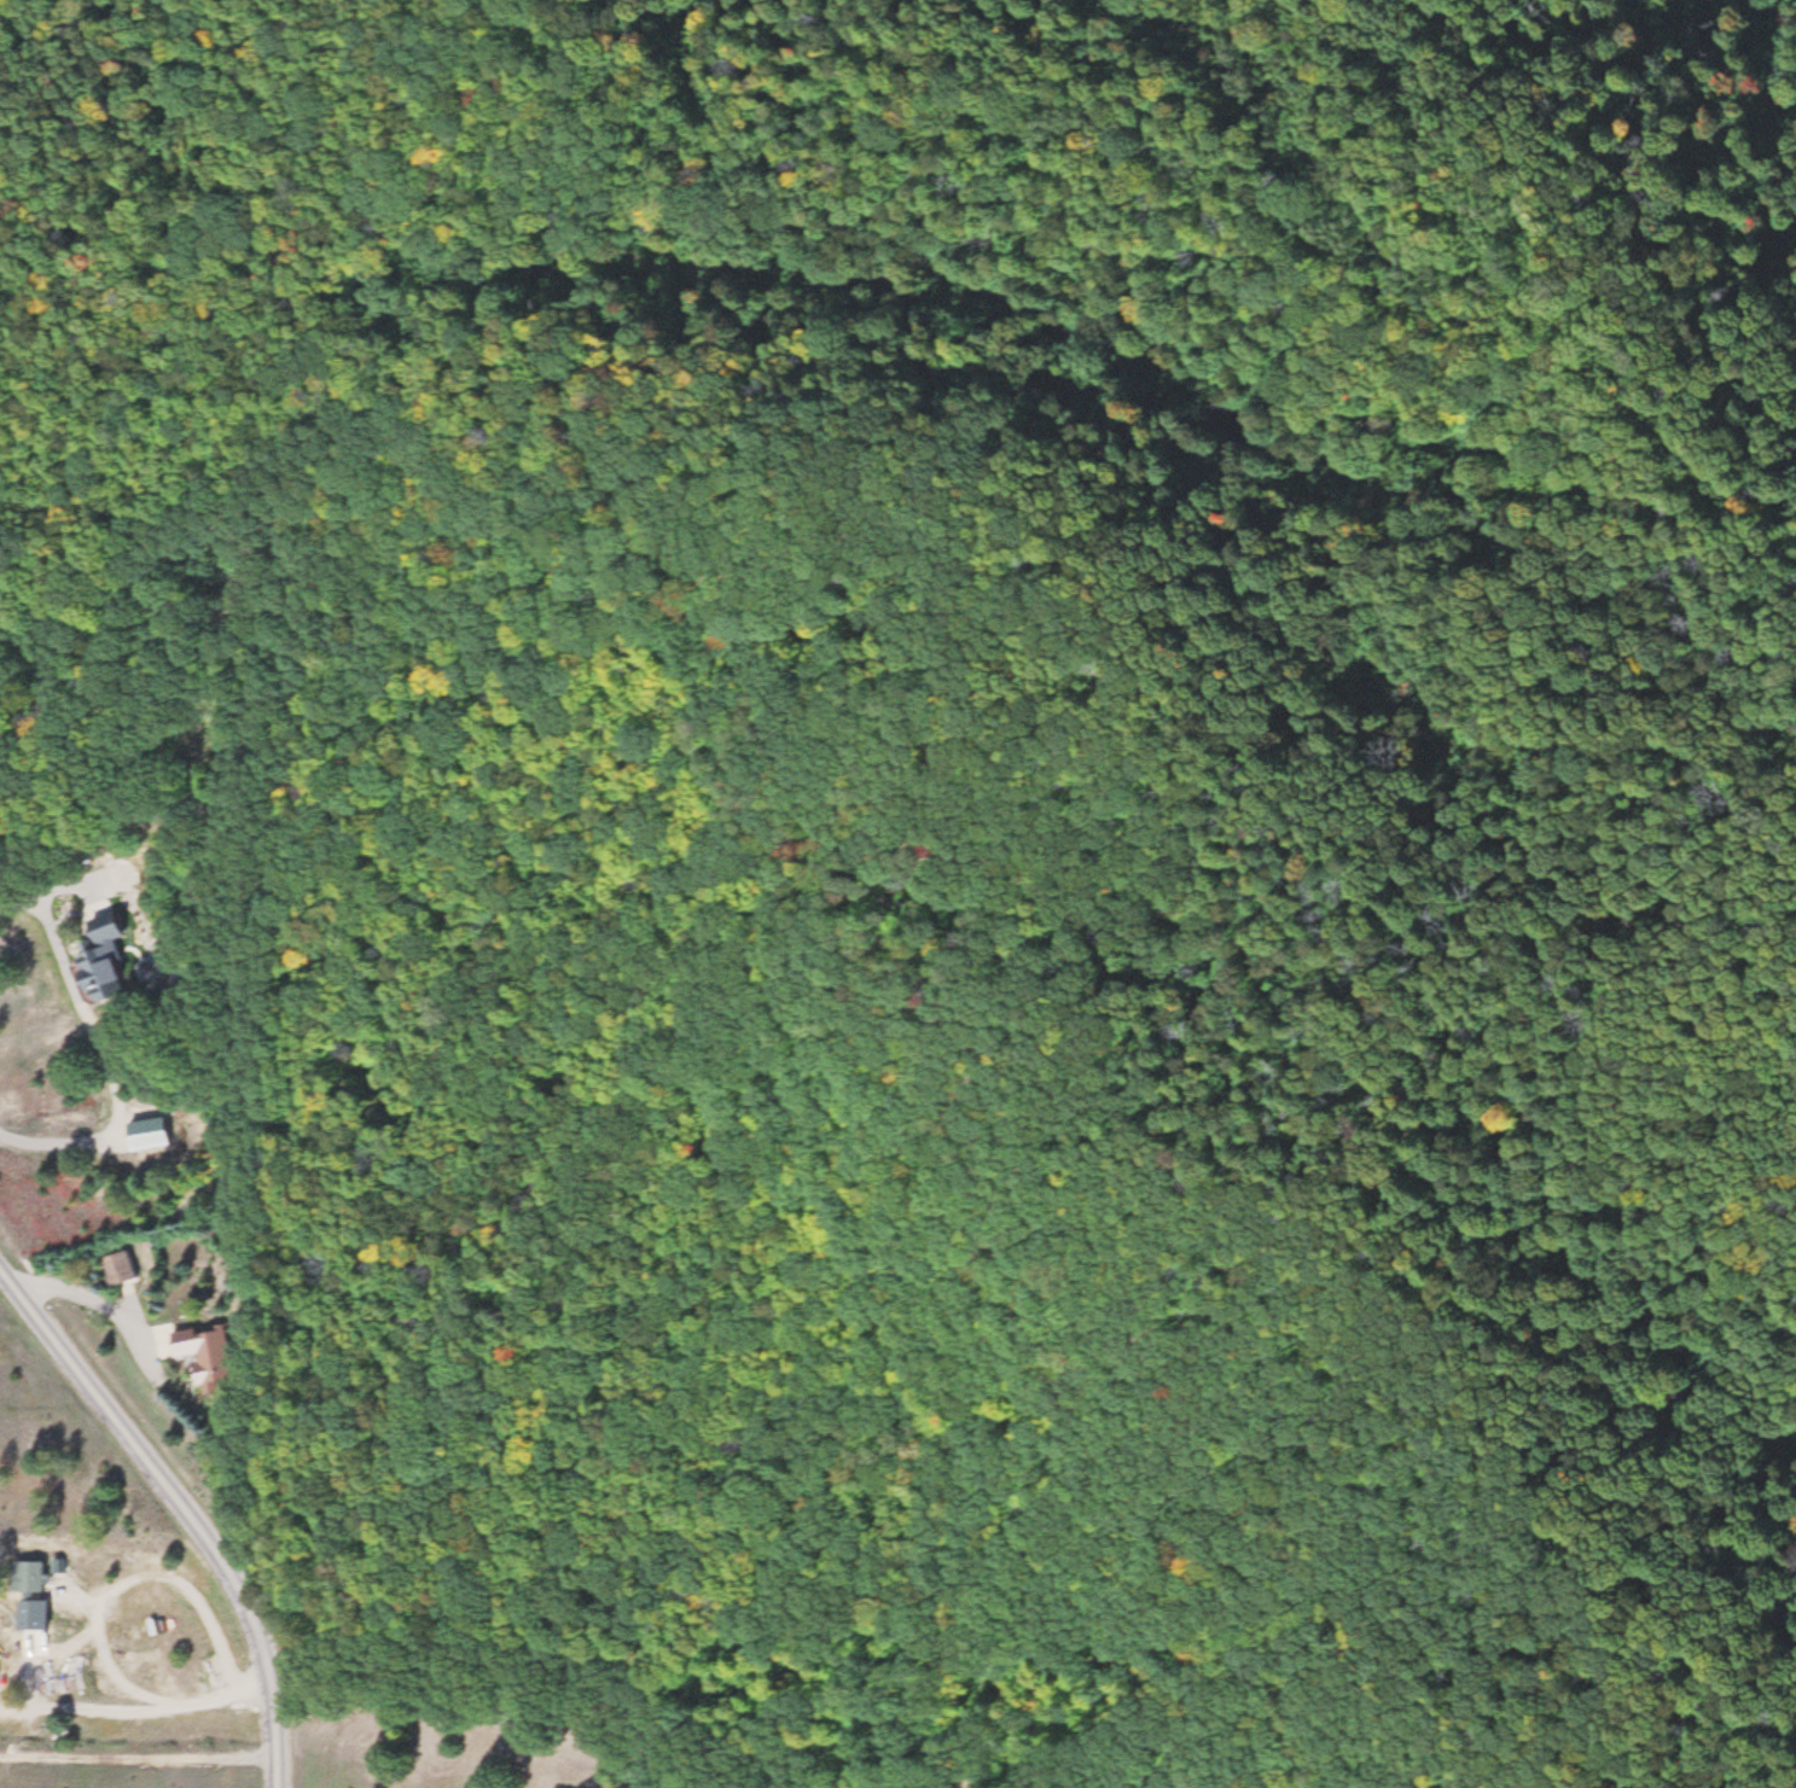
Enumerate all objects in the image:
road: (1746, 42)
road: (1332, 250)
building: (107, 961)
building: (123, 1268)
building: (208, 1352)
road: (188, 1504)
building: (33, 1576)

